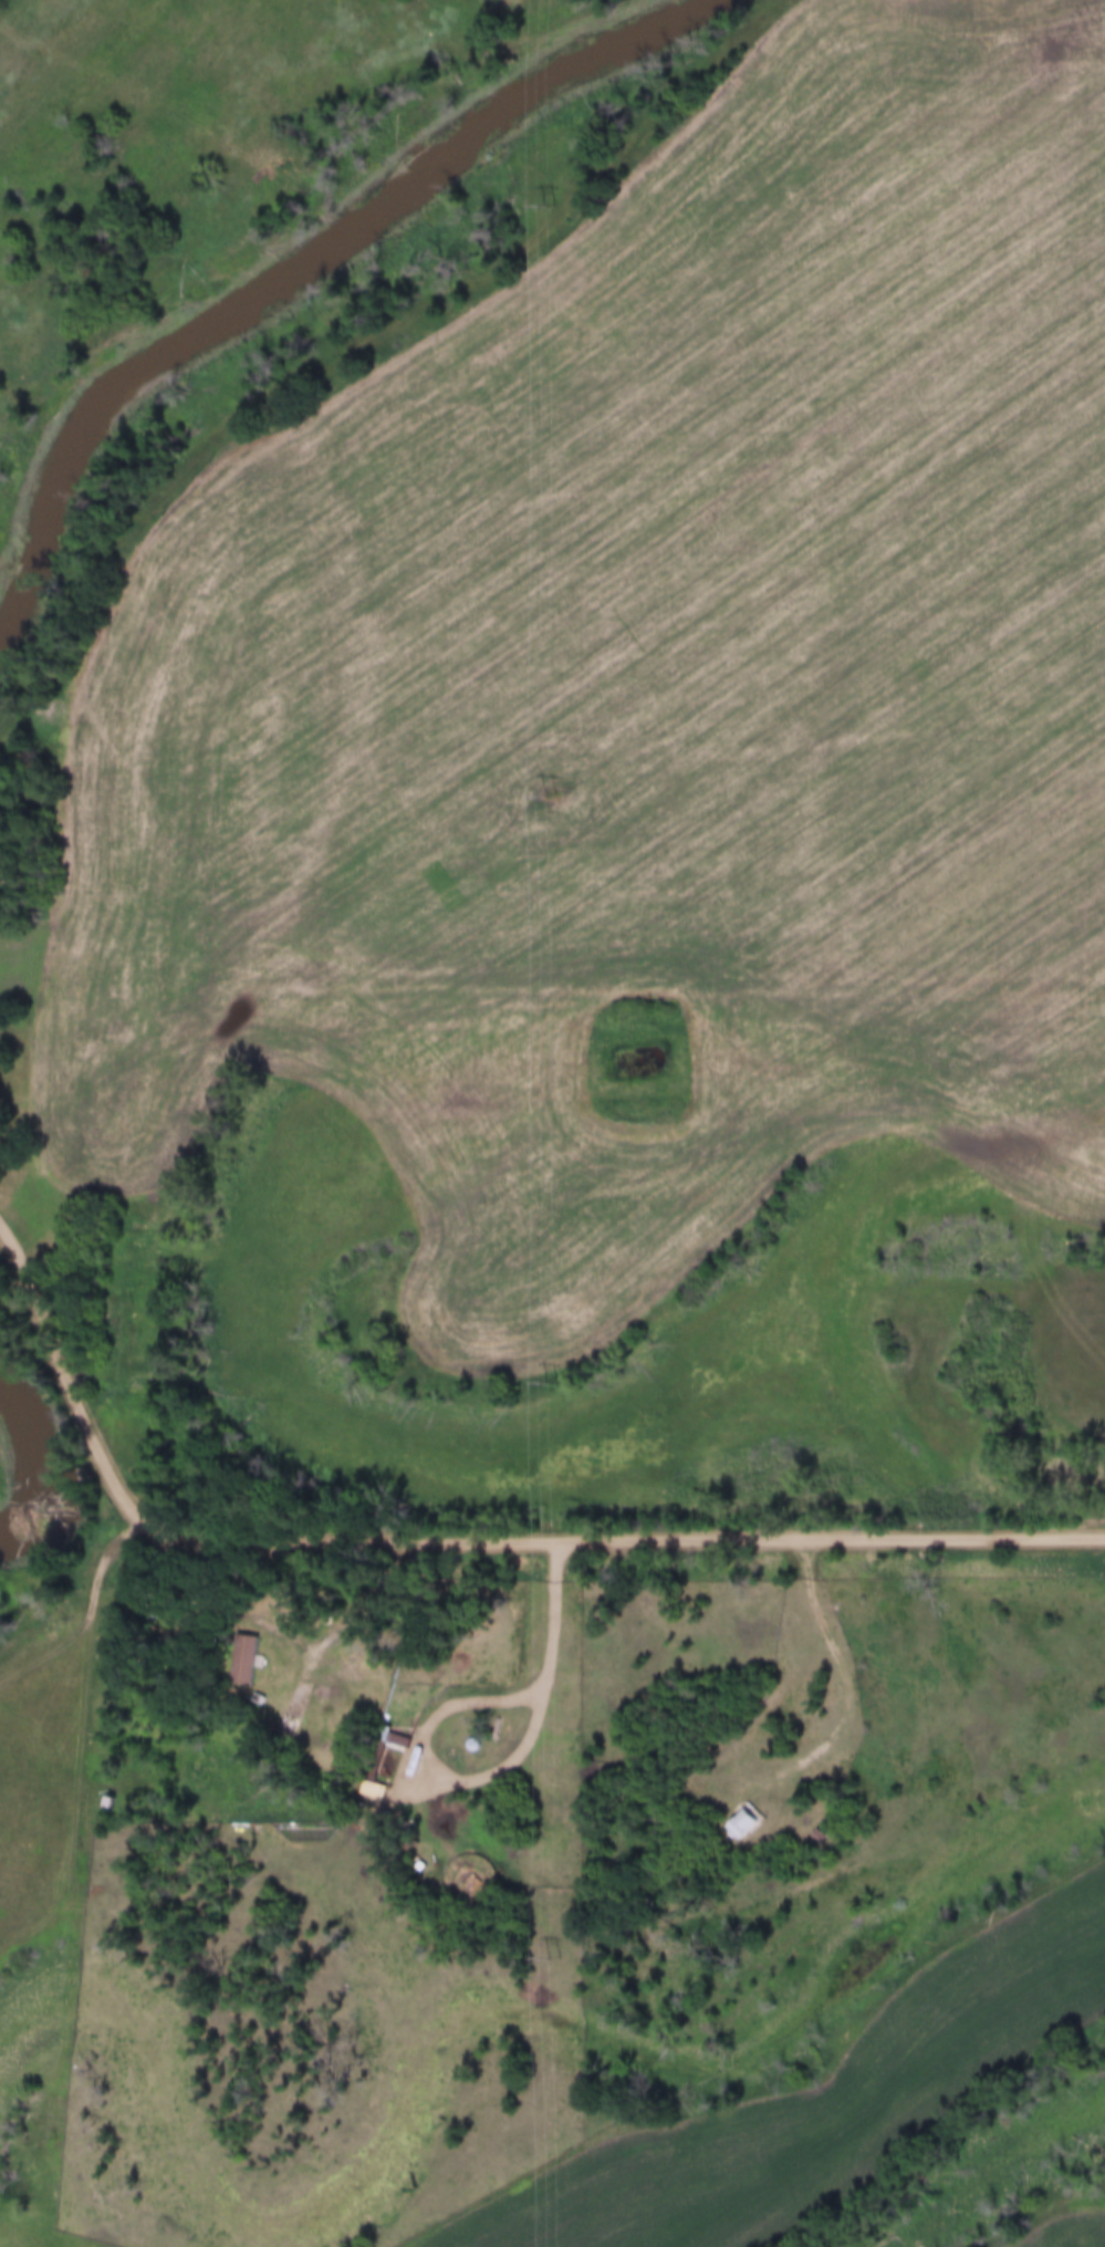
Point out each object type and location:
power tower: (554, 202)
river: (281, 274)
power tower: (550, 794)
building: (11, 990)
power tower: (552, 1382)
river: (34, 1466)
road: (134, 1522)
road: (769, 1541)
road: (347, 1621)
building: (250, 1658)
building: (402, 1675)
building: (446, 1816)
building: (746, 1824)
power tower: (563, 1956)

